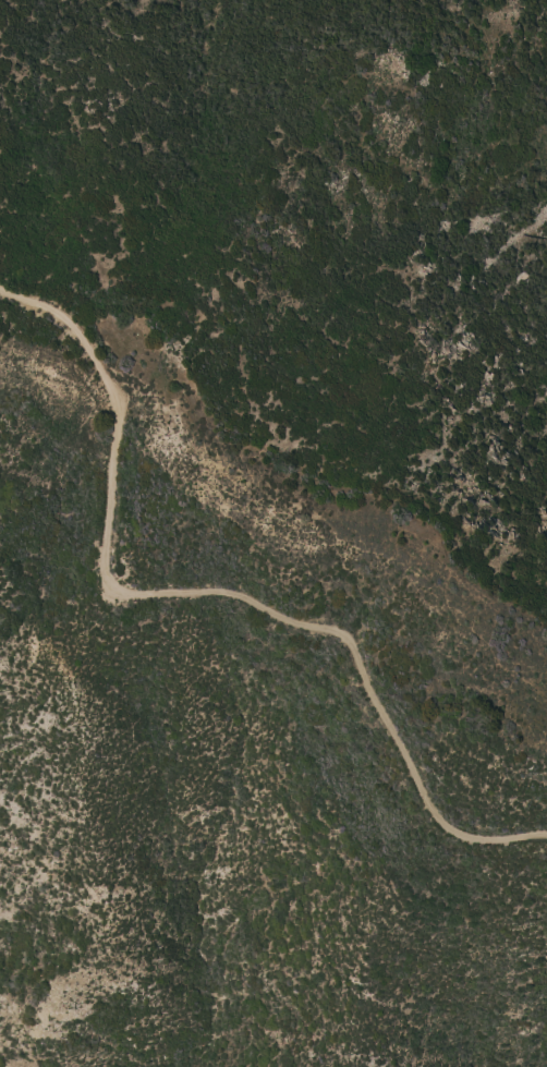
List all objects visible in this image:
road: (212, 585)

